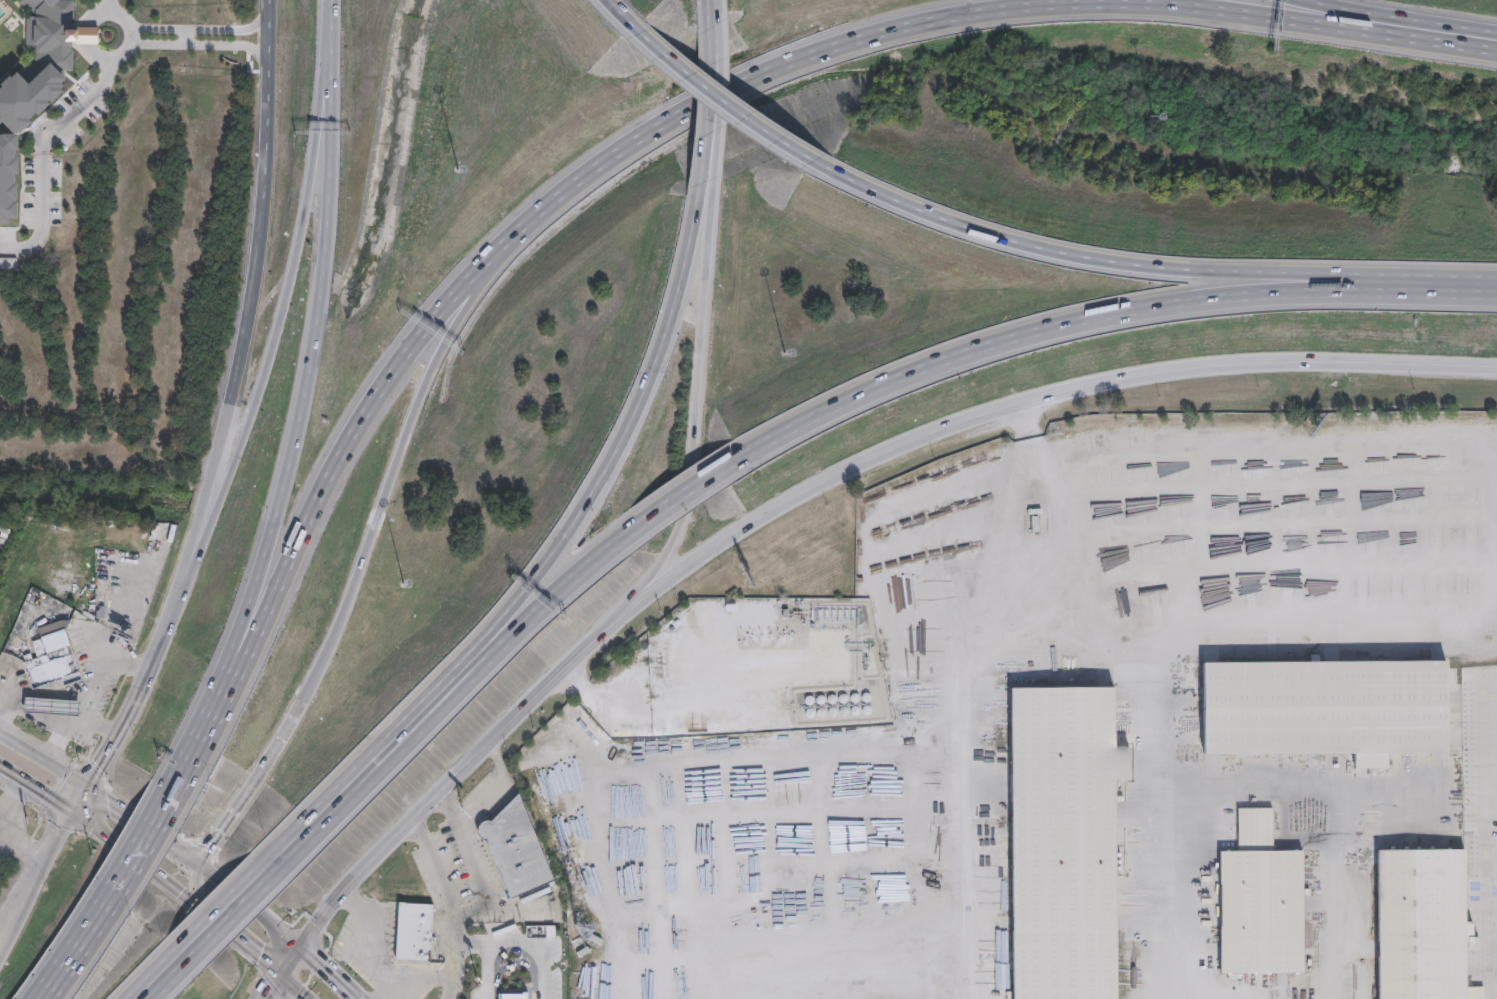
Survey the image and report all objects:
road: (717, 11)
road: (335, 12)
road: (978, 12)
road: (706, 13)
road: (618, 14)
road: (1398, 17)
road: (120, 18)
road: (268, 33)
road: (131, 36)
road: (186, 38)
building: (33, 76)
road: (717, 100)
road: (718, 101)
road: (705, 105)
road: (269, 140)
road: (45, 143)
building: (8, 262)
road: (1145, 265)
road: (296, 276)
road: (1099, 315)
road: (243, 365)
road: (305, 385)
road: (692, 425)
road: (394, 464)
road: (331, 467)
road: (598, 477)
road: (818, 482)
road: (672, 497)
road: (1157, 641)
building: (55, 660)
road: (837, 681)
road: (97, 688)
road: (445, 700)
building: (52, 706)
building: (1325, 707)
road: (47, 722)
road: (75, 725)
road: (124, 729)
road: (190, 755)
road: (496, 759)
road: (44, 762)
road: (964, 772)
road: (247, 785)
road: (332, 788)
road: (1281, 788)
traffic signals: (89, 789)
road: (170, 793)
road: (481, 802)
road: (9, 806)
traffic signals: (70, 815)
road: (144, 827)
road: (1483, 834)
building: (1064, 841)
road: (22, 845)
building: (515, 848)
road: (121, 850)
road: (135, 853)
traffic signals: (199, 865)
road: (474, 865)
road: (196, 883)
road: (1163, 893)
road: (220, 900)
building: (1260, 900)
road: (452, 904)
road: (252, 906)
road: (236, 911)
road: (20, 912)
building: (1422, 925)
building: (414, 931)
road: (368, 934)
building: (594, 937)
road: (510, 943)
road: (471, 944)
road: (75, 948)
traffic signals: (306, 948)
building: (582, 950)
road: (261, 957)
road: (295, 963)
road: (150, 971)
road: (332, 972)
road: (171, 976)
traffic signals: (284, 979)
road: (410, 979)
road: (277, 989)
road: (293, 989)
building: (512, 995)

